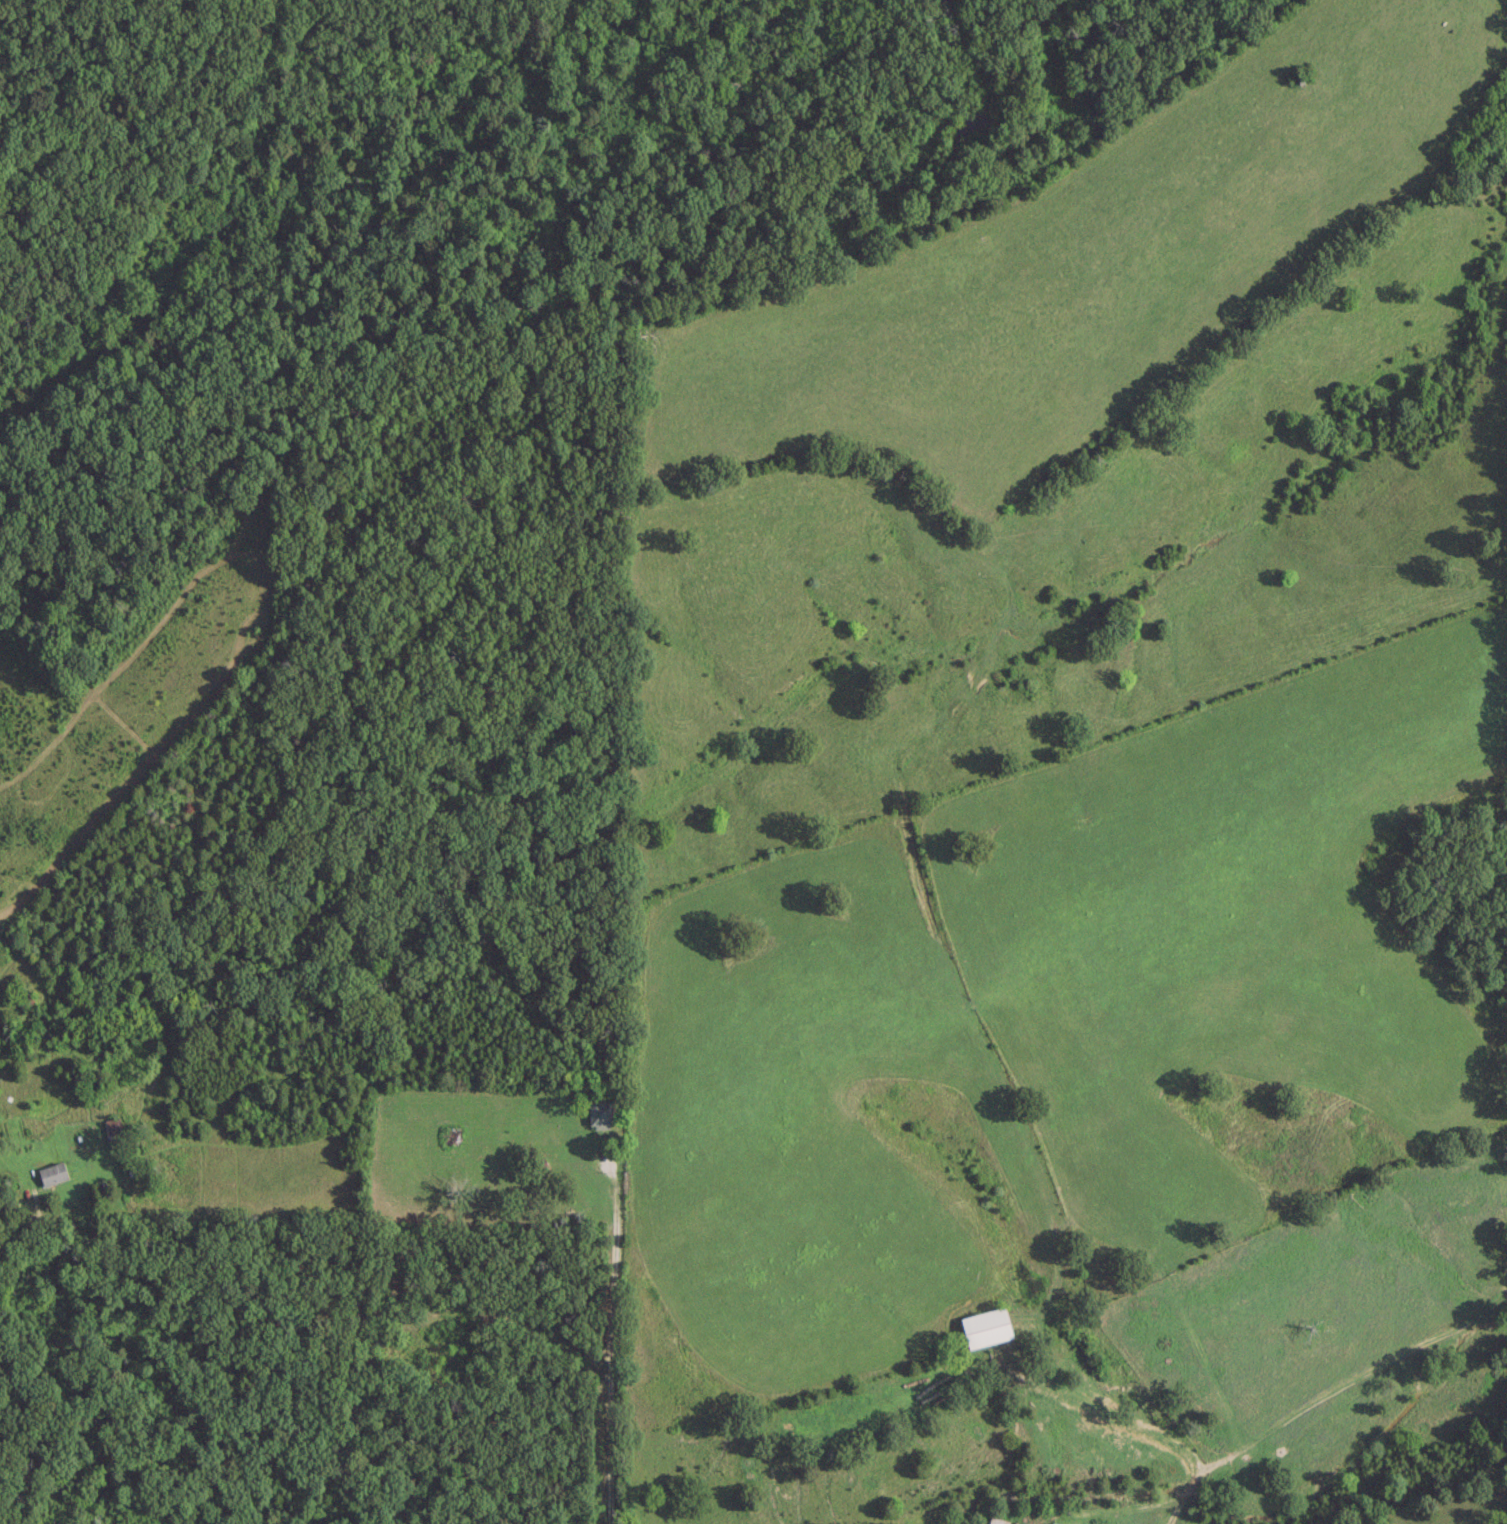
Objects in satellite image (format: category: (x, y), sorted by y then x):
building: (600, 1113)
building: (52, 1172)
road: (39, 1219)
building: (986, 1325)
road: (608, 1342)
building: (448, 1360)
building: (997, 1520)
building: (1059, 1522)

